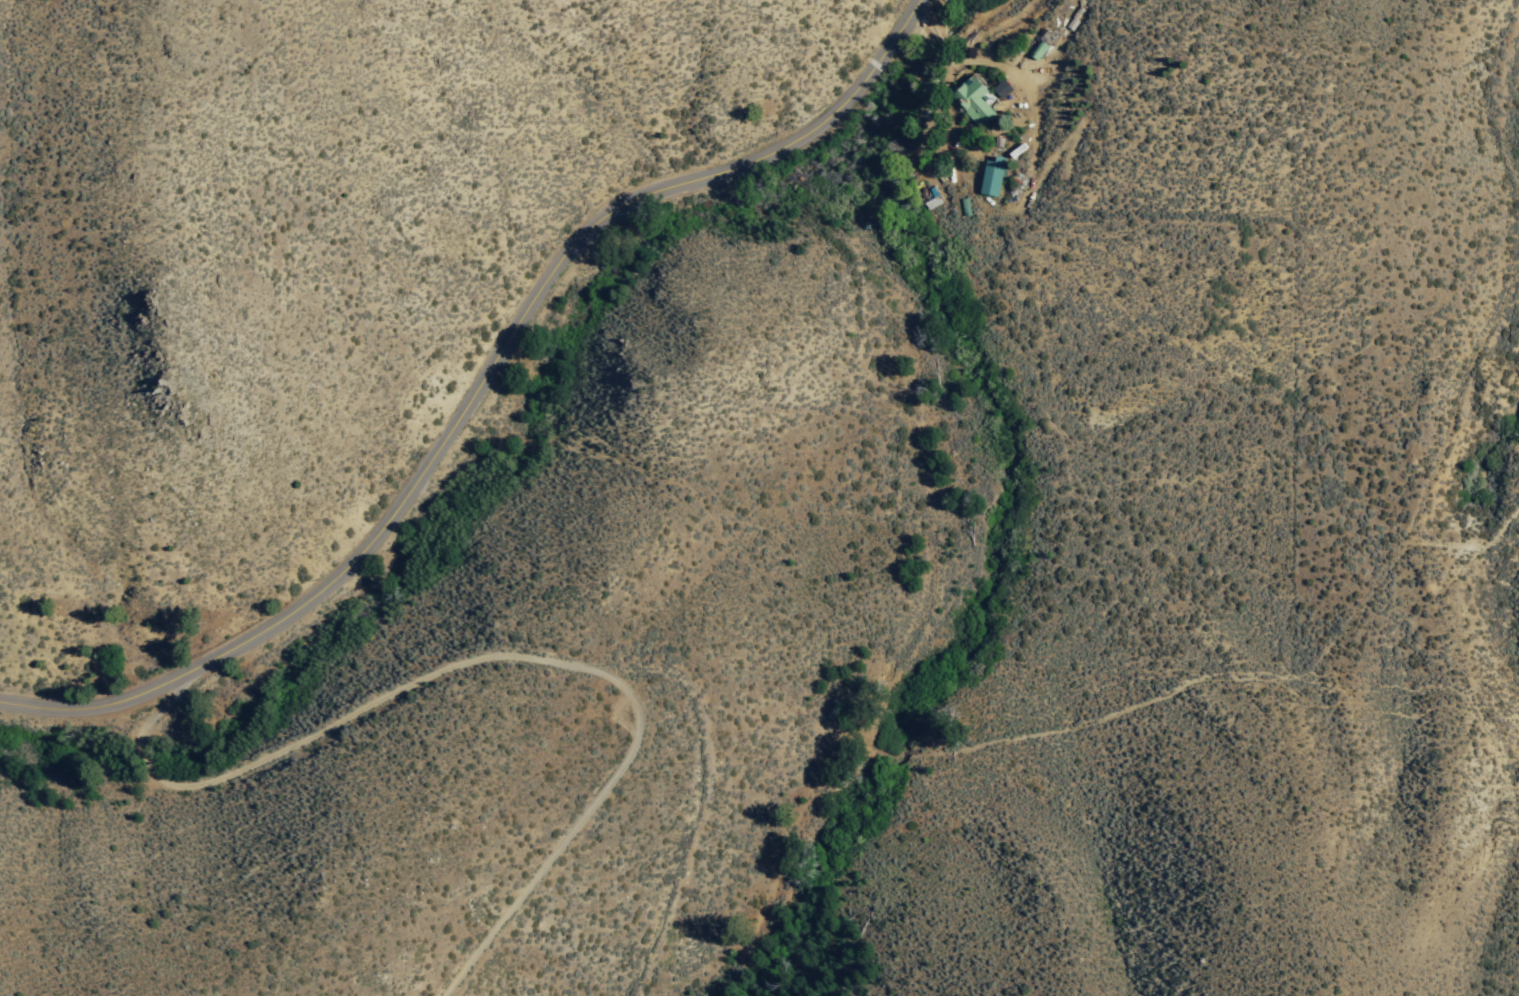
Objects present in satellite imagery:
road: (1022, 73)
building: (974, 99)
building: (994, 176)
road: (478, 389)
road: (1460, 394)
road: (505, 654)
road: (1083, 718)

